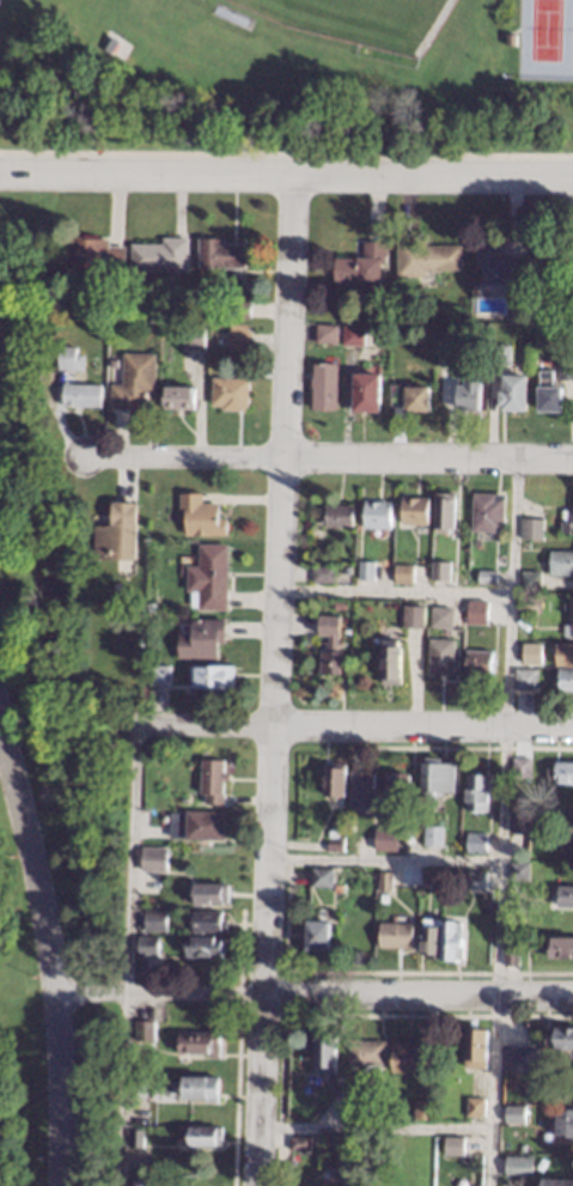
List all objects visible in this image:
park: (350, 22)
park: (543, 39)
park: (287, 78)
road: (286, 175)
building: (220, 253)
building: (92, 255)
building: (160, 255)
building: (426, 256)
building: (563, 259)
building: (361, 264)
building: (504, 268)
building: (240, 308)
building: (396, 310)
building: (185, 312)
road: (287, 315)
building: (512, 316)
building: (550, 317)
building: (390, 320)
building: (445, 328)
building: (325, 332)
building: (549, 332)
building: (353, 334)
building: (191, 335)
building: (238, 337)
building: (499, 352)
building: (449, 353)
building: (69, 358)
building: (112, 361)
building: (565, 370)
building: (134, 379)
building: (323, 384)
building: (513, 390)
building: (366, 391)
building: (468, 391)
building: (549, 391)
building: (230, 393)
building: (81, 394)
building: (409, 396)
building: (178, 397)
road: (328, 456)
building: (487, 510)
building: (414, 511)
building: (443, 511)
building: (377, 512)
building: (201, 515)
building: (337, 515)
building: (566, 519)
building: (531, 528)
building: (116, 531)
building: (561, 561)
building: (347, 568)
building: (365, 570)
building: (440, 570)
building: (322, 573)
building: (403, 573)
building: (486, 576)
building: (208, 577)
building: (530, 579)
road: (392, 590)
building: (530, 602)
building: (478, 607)
building: (414, 615)
building: (441, 616)
building: (569, 619)
building: (202, 638)
building: (329, 644)
building: (529, 649)
building: (565, 653)
building: (441, 656)
building: (391, 661)
building: (480, 662)
building: (160, 674)
building: (213, 676)
building: (526, 677)
building: (565, 677)
road: (343, 725)
building: (156, 755)
building: (522, 767)
building: (563, 771)
park: (50, 777)
building: (438, 777)
building: (335, 779)
building: (212, 780)
building: (394, 783)
building: (360, 789)
building: (477, 791)
building: (555, 819)
road: (268, 820)
road: (501, 822)
building: (519, 822)
building: (197, 823)
building: (333, 833)
building: (566, 833)
building: (433, 834)
building: (385, 838)
building: (476, 841)
building: (335, 845)
building: (153, 857)
road: (383, 859)
building: (518, 870)
building: (321, 876)
building: (431, 877)
building: (384, 880)
building: (476, 880)
building: (336, 886)
building: (412, 889)
building: (211, 892)
building: (565, 894)
building: (513, 902)
building: (154, 919)
building: (208, 920)
building: (395, 933)
building: (317, 935)
building: (429, 937)
building: (450, 938)
building: (147, 944)
building: (205, 945)
building: (561, 945)
road: (47, 955)
road: (129, 955)
building: (511, 955)
road: (311, 992)
road: (281, 1023)
building: (144, 1029)
building: (559, 1036)
building: (199, 1042)
building: (475, 1047)
building: (324, 1053)
building: (366, 1053)
building: (517, 1056)
building: (407, 1057)
building: (139, 1085)
building: (200, 1087)
road: (92, 1088)
building: (422, 1107)
building: (475, 1107)
building: (353, 1111)
building: (514, 1113)
building: (565, 1121)
road: (373, 1127)
building: (200, 1135)
building: (135, 1137)
building: (299, 1142)
building: (453, 1144)
building: (312, 1148)
building: (347, 1161)
building: (518, 1166)
building: (141, 1181)
building: (555, 1182)

